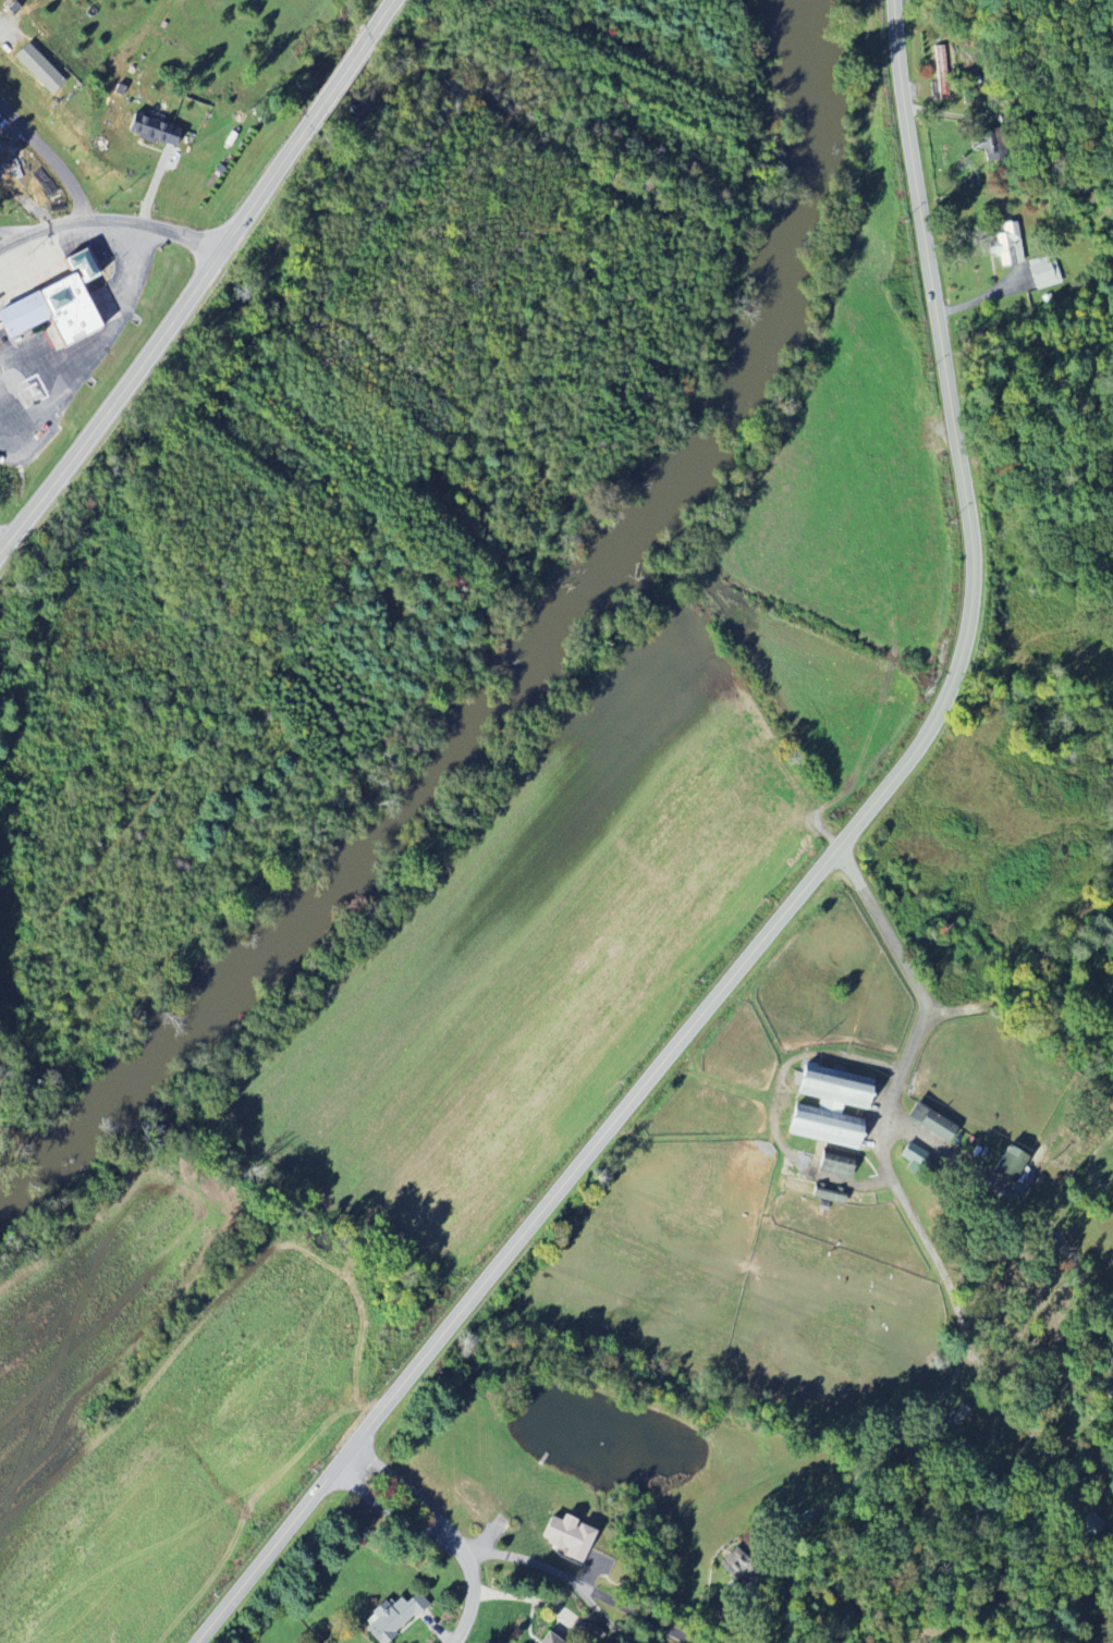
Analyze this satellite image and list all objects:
building: (35, 69)
building: (150, 131)
road: (52, 157)
road: (448, 204)
road: (111, 219)
road: (12, 234)
building: (1006, 245)
building: (1044, 273)
road: (203, 279)
river: (781, 287)
building: (62, 304)
road: (88, 357)
road: (1036, 443)
road: (505, 490)
river: (395, 807)
road: (796, 897)
building: (825, 1107)
river: (71, 1123)
building: (928, 1124)
building: (912, 1156)
building: (833, 1164)
building: (1006, 1165)
building: (825, 1194)
road: (1024, 1209)
road: (937, 1260)
road: (412, 1491)
road: (393, 1513)
building: (566, 1537)
road: (562, 1577)
road: (474, 1595)
road: (632, 1609)
building: (391, 1618)
building: (551, 1638)

